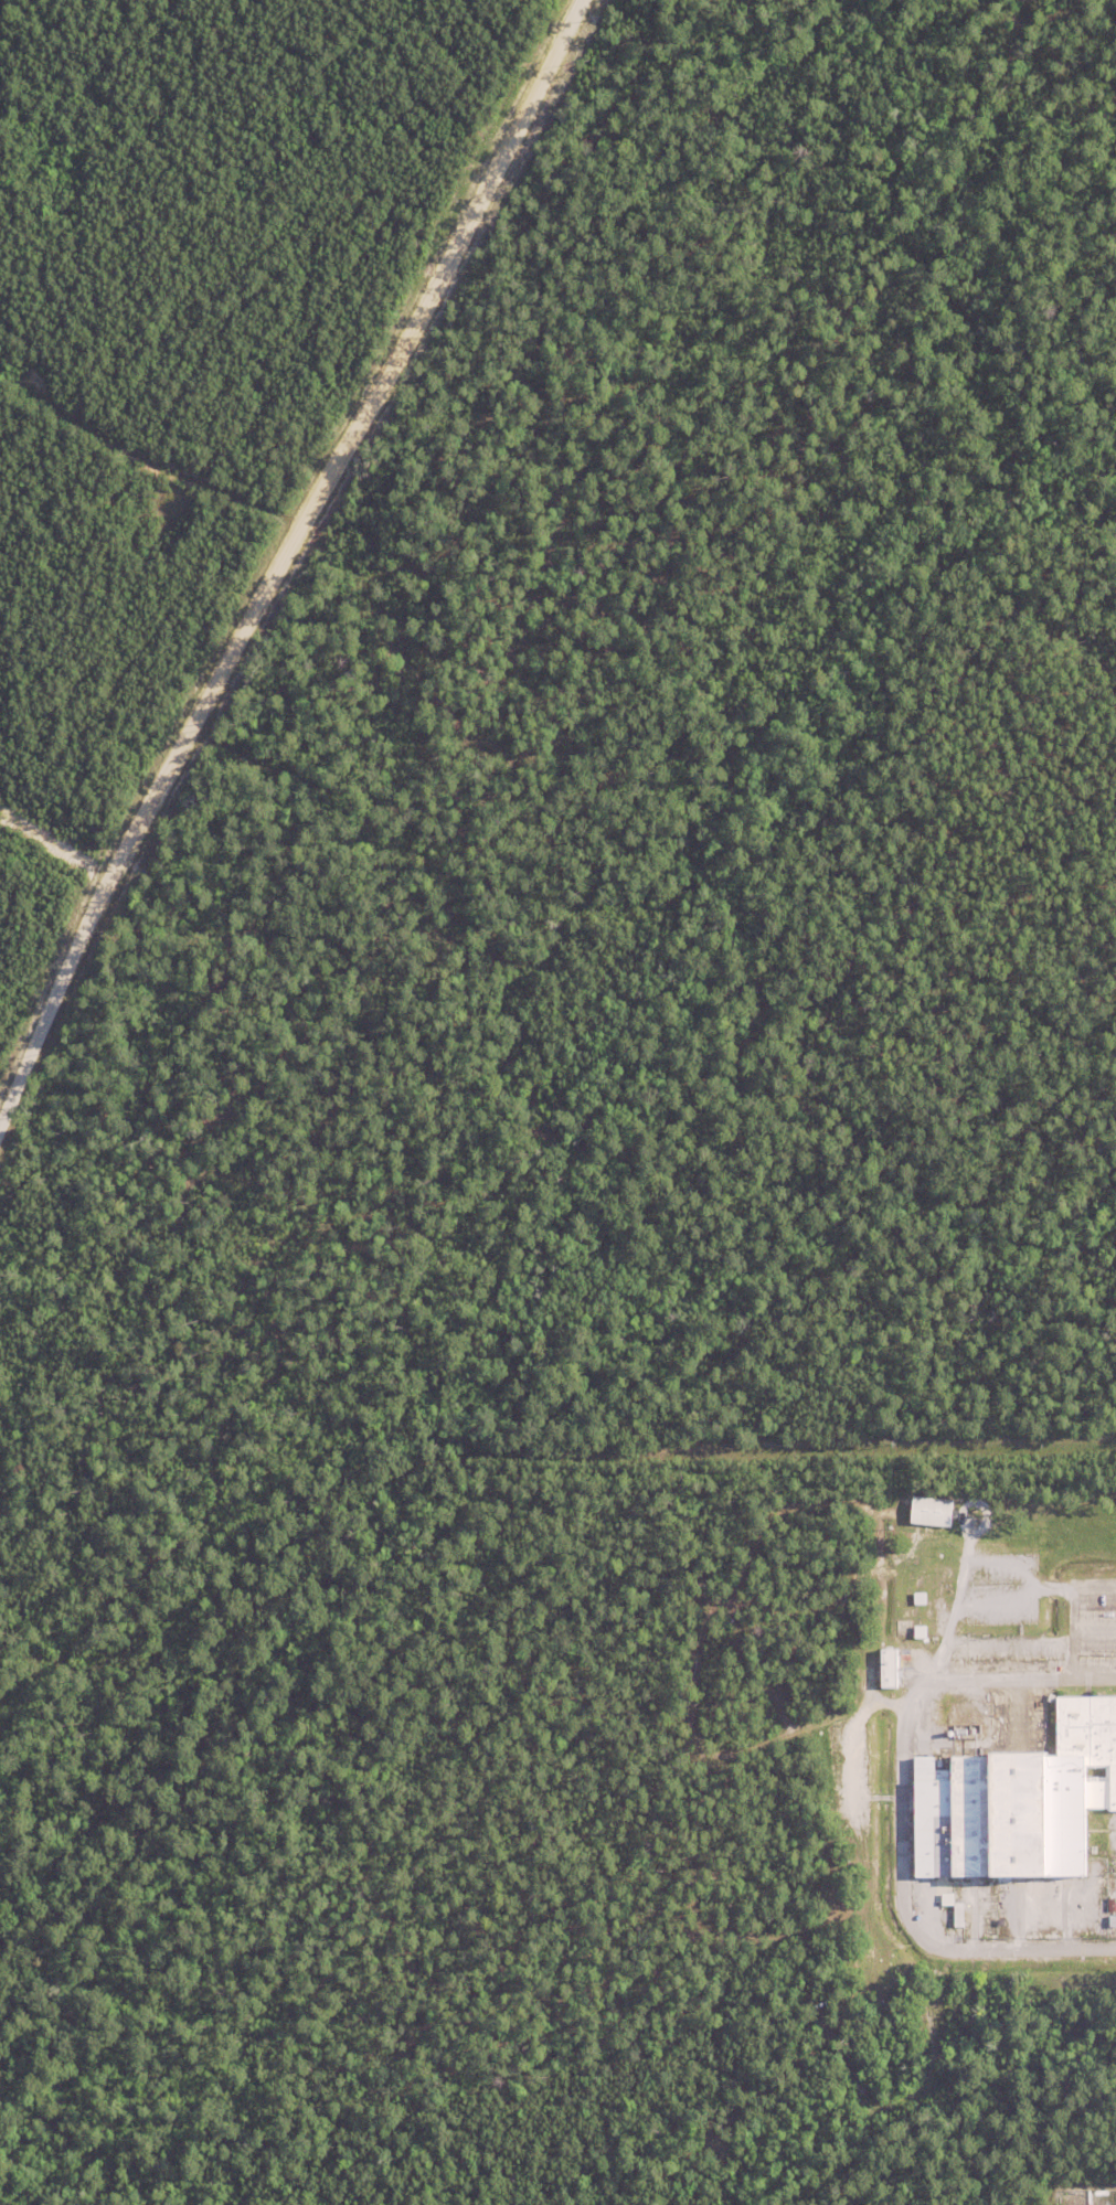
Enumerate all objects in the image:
road: (284, 557)
building: (927, 1511)
building: (921, 1600)
building: (921, 1633)
building: (890, 1672)
building: (1088, 1743)
road: (900, 1811)
building: (995, 1818)

